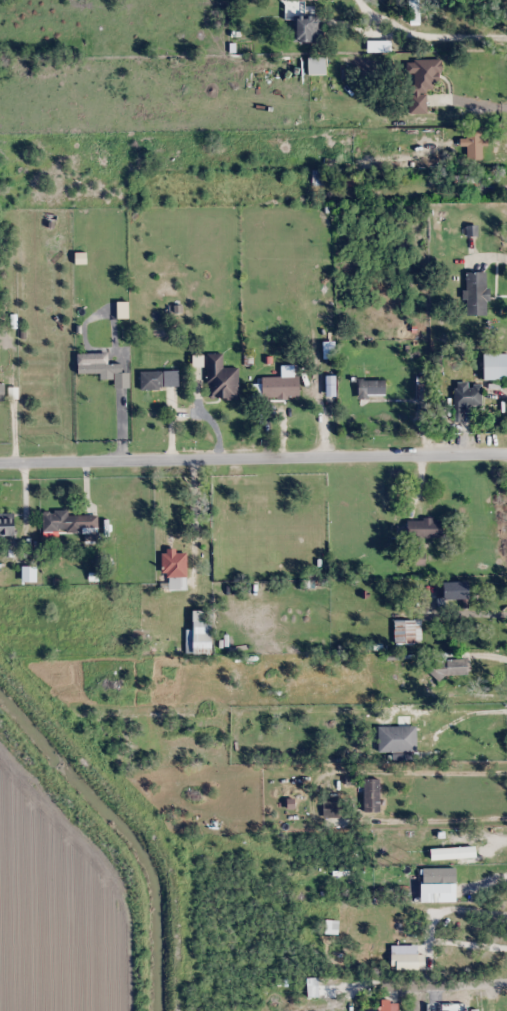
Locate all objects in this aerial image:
building: (307, 28)
building: (317, 66)
building: (422, 83)
building: (476, 293)
building: (495, 366)
building: (222, 379)
building: (152, 380)
building: (280, 387)
building: (372, 389)
building: (466, 397)
road: (253, 456)
building: (68, 522)
building: (7, 525)
building: (423, 528)
building: (174, 564)
building: (456, 591)
building: (407, 631)
building: (202, 633)
building: (456, 667)
building: (282, 743)
building: (372, 795)
building: (335, 808)
building: (453, 852)
building: (331, 927)
road: (426, 930)
building: (407, 958)
road: (443, 987)
building: (380, 1006)

